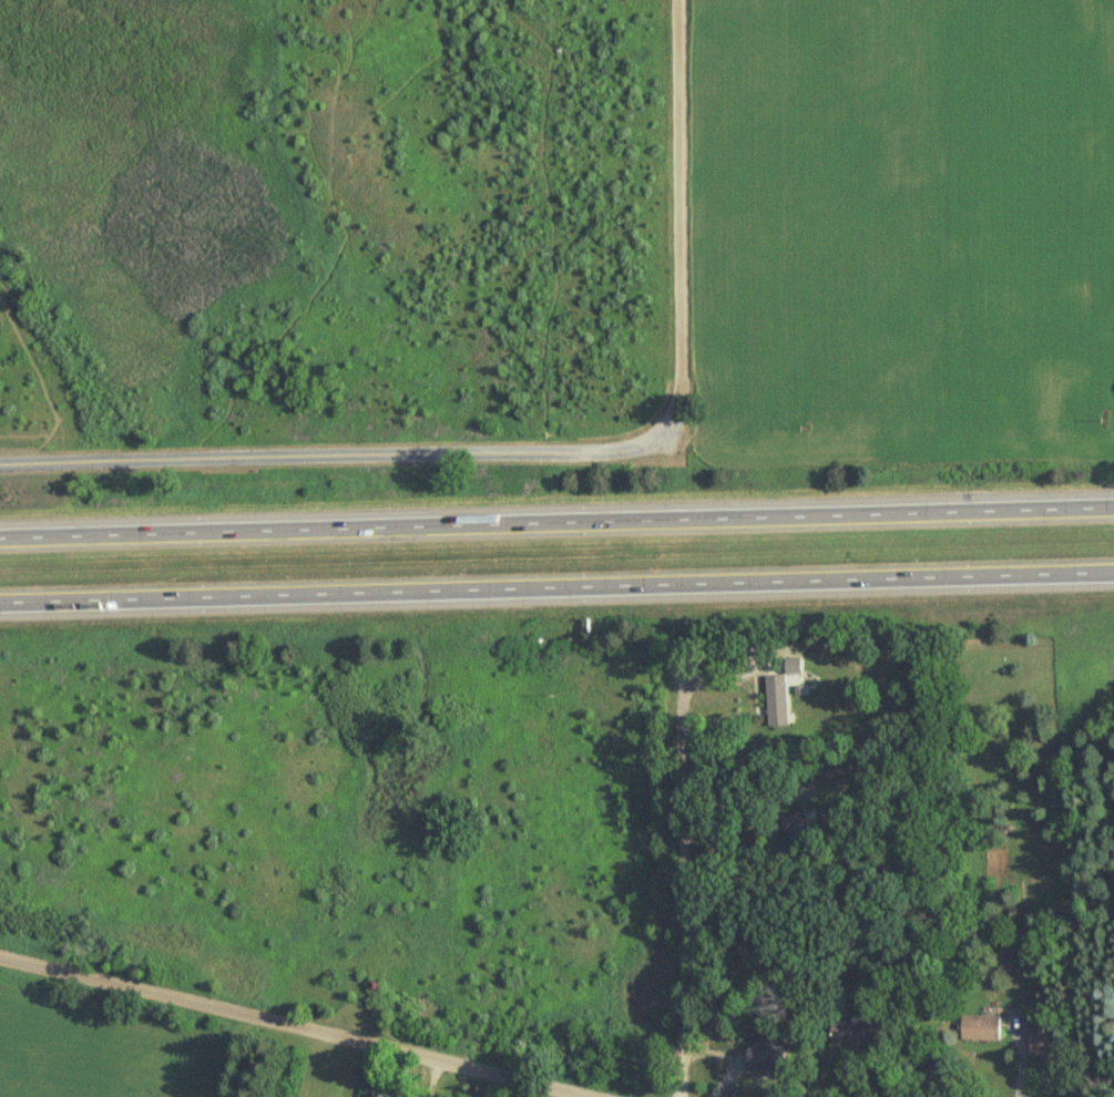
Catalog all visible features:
road: (682, 209)
crop: (901, 230)
road: (343, 458)
road: (556, 523)
road: (556, 587)
building: (776, 703)
building: (793, 823)
road: (679, 874)
building: (979, 1025)
road: (288, 1029)
building: (852, 1031)
building: (1040, 1044)
crop: (101, 1055)
building: (370, 1096)

